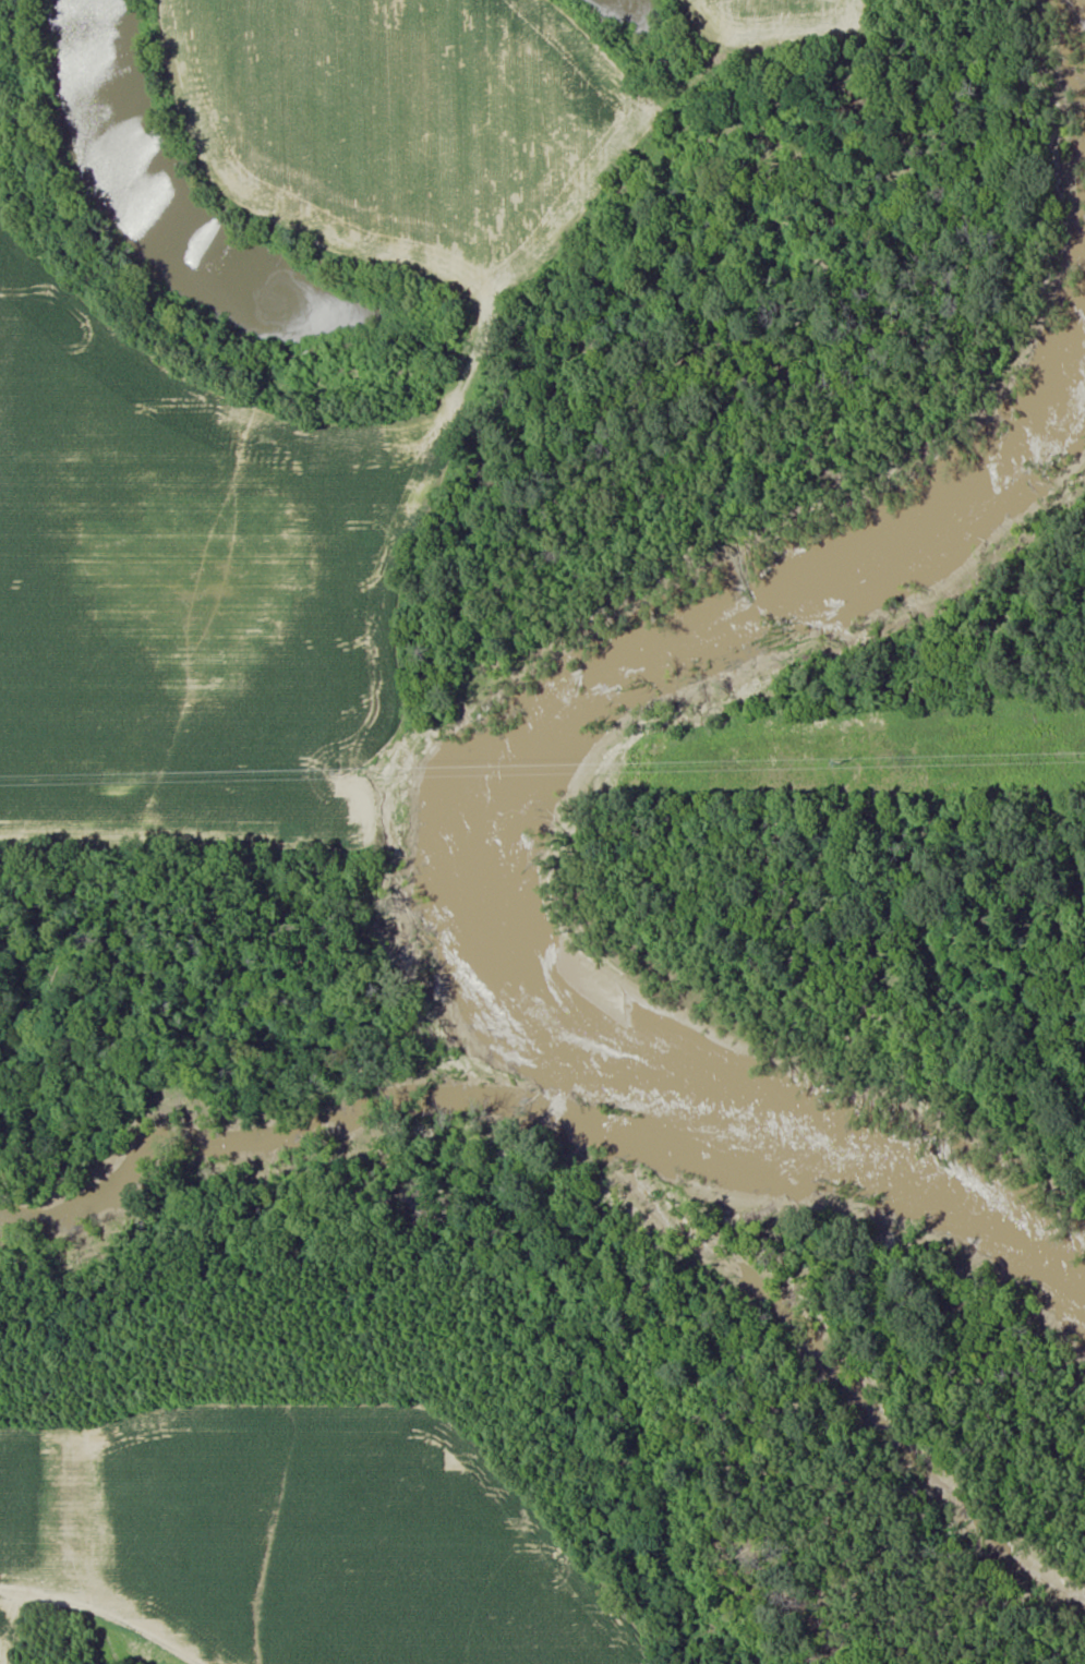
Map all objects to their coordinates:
power tower: (999, 755)
power tower: (336, 770)
river: (496, 836)

